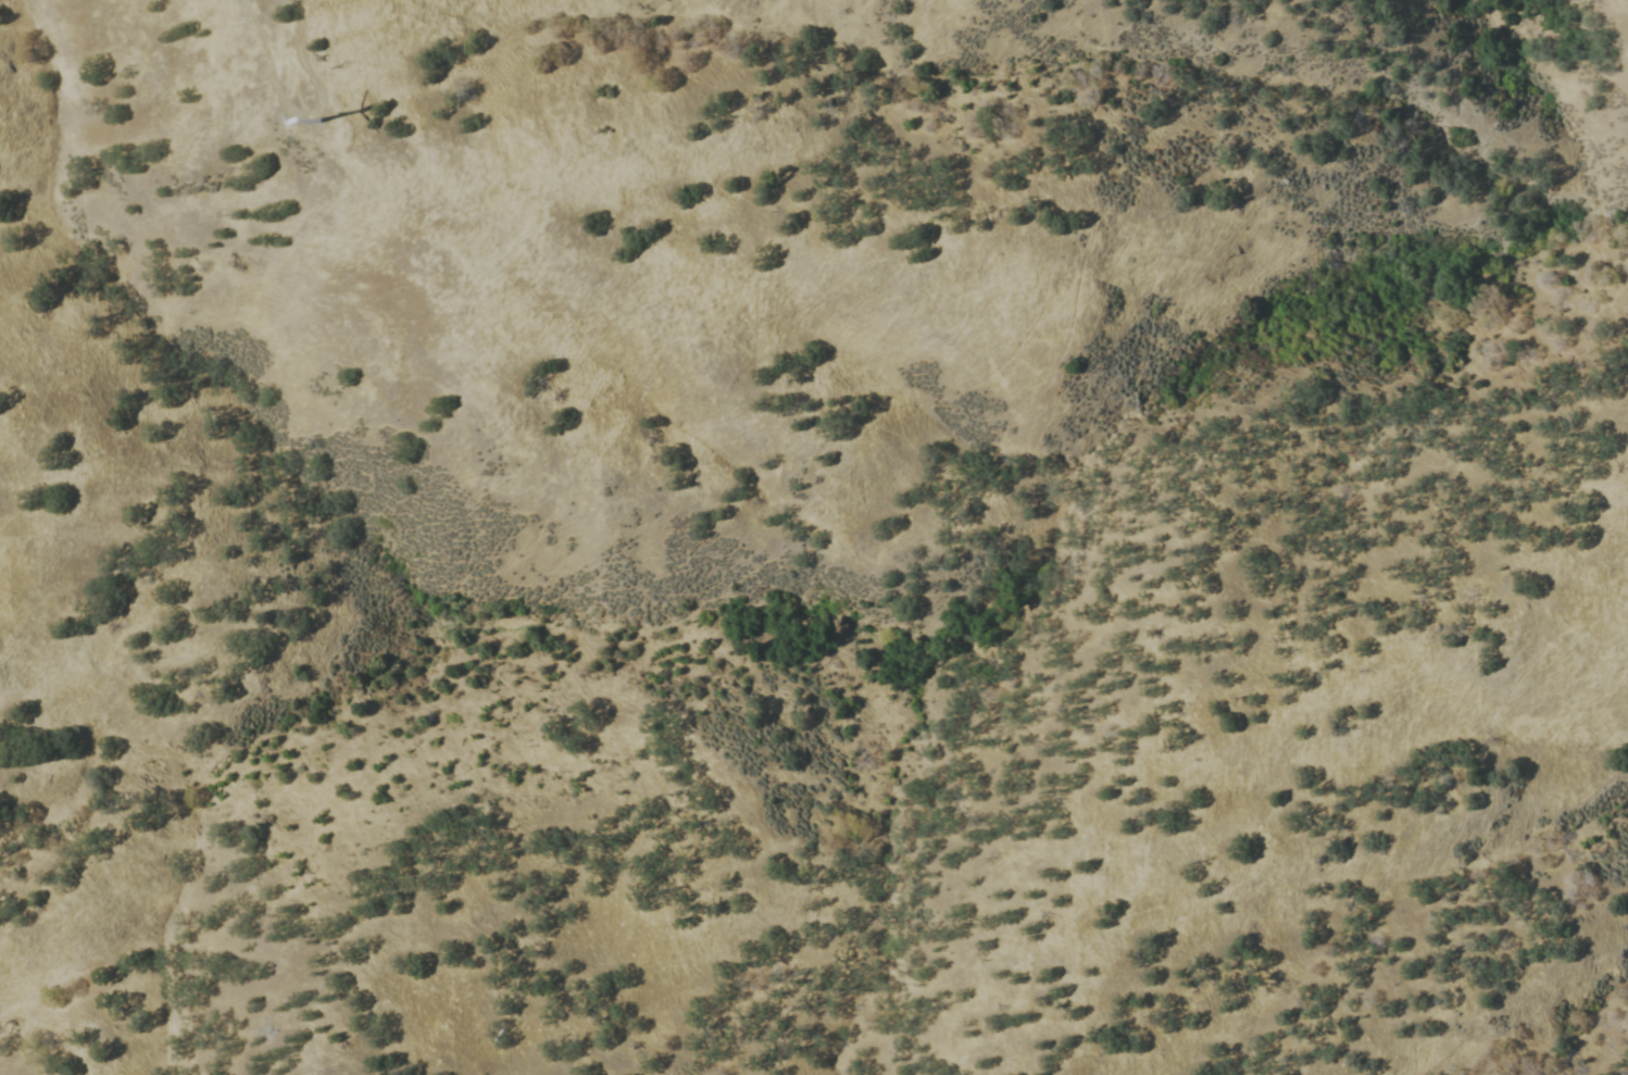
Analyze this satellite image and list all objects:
road: (300, 113)
wind turbine: (328, 117)

